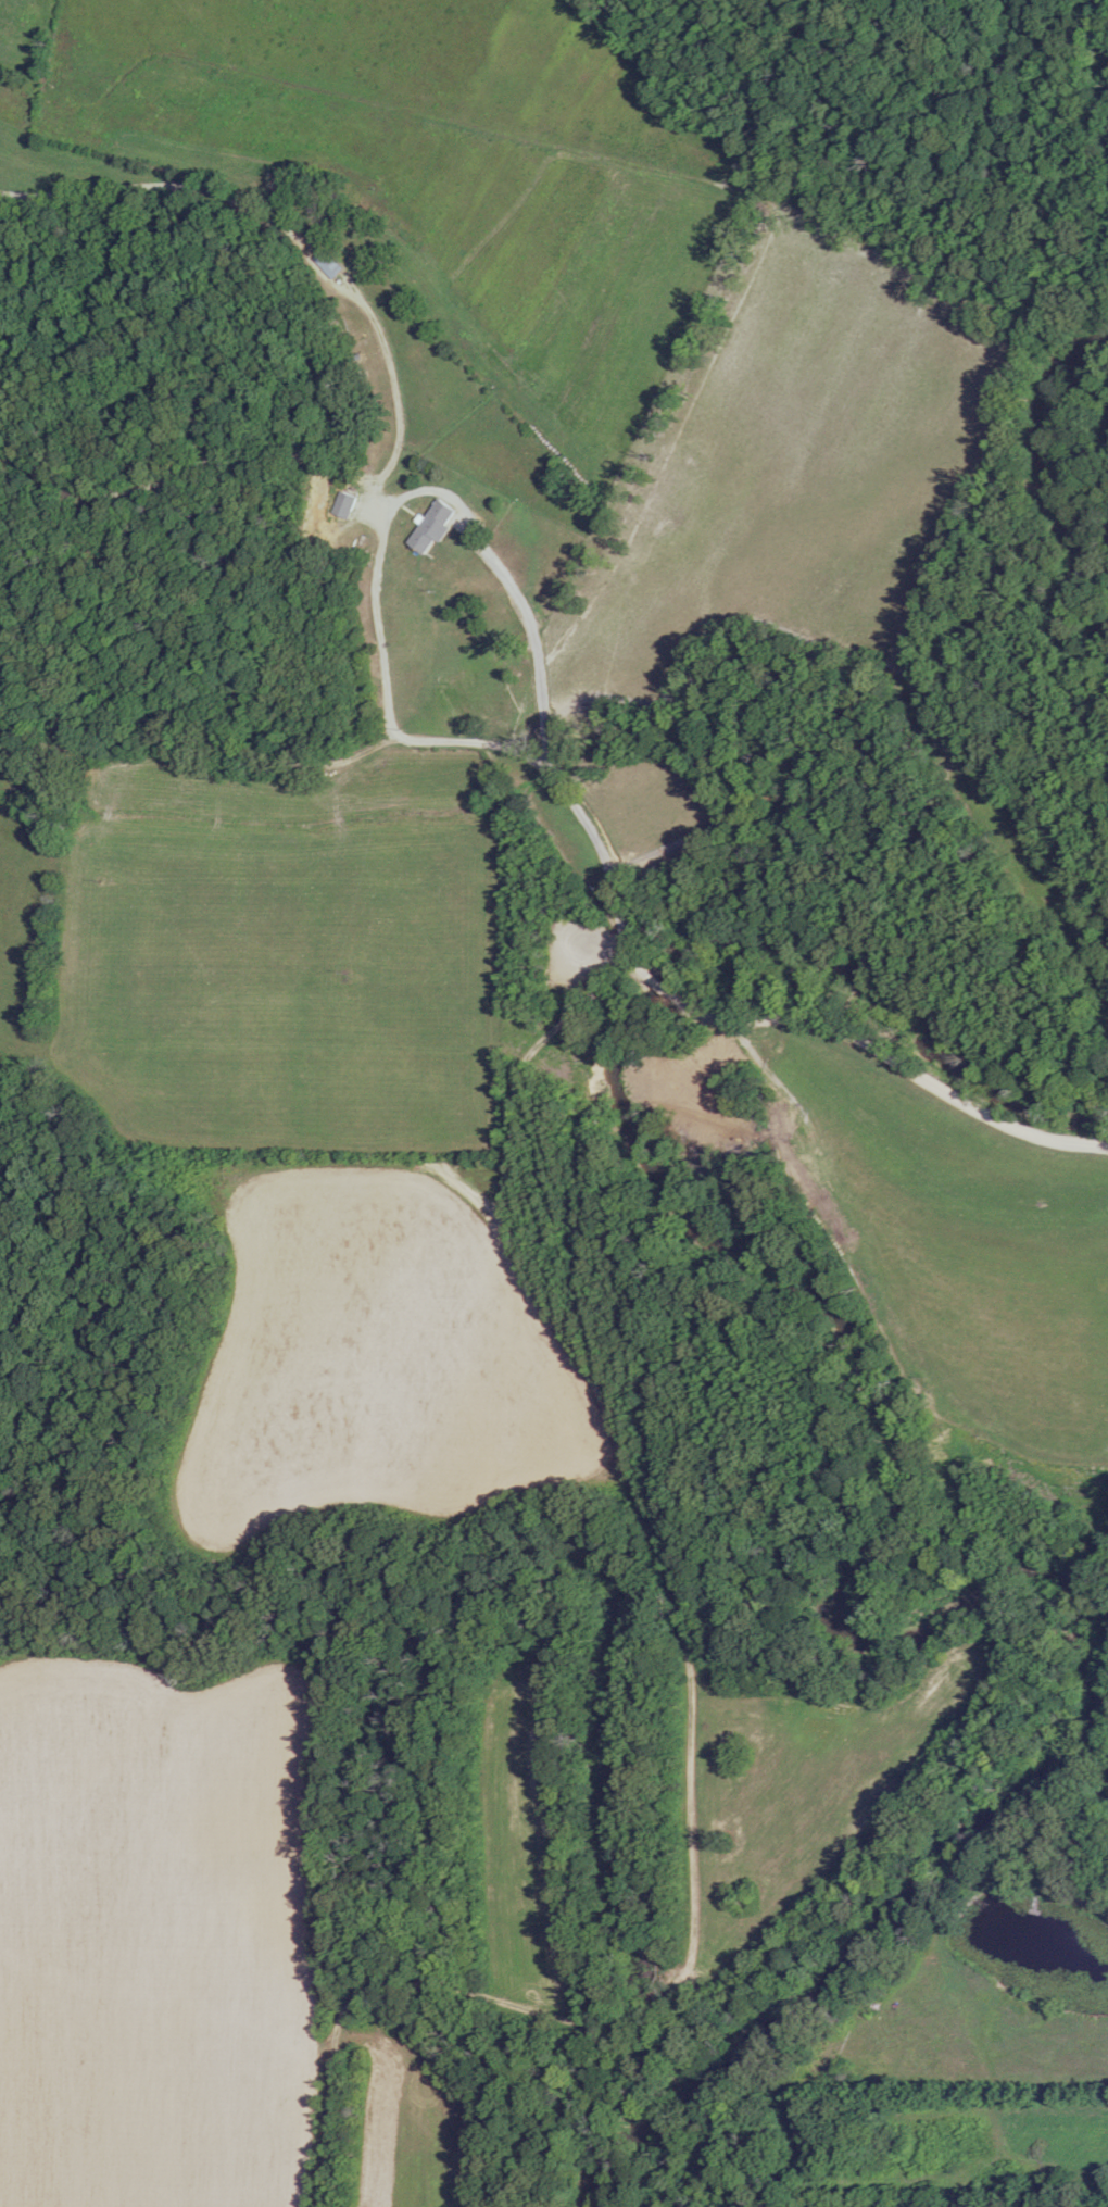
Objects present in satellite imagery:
building: (326, 263)
building: (343, 505)
building: (430, 527)
road: (626, 928)

